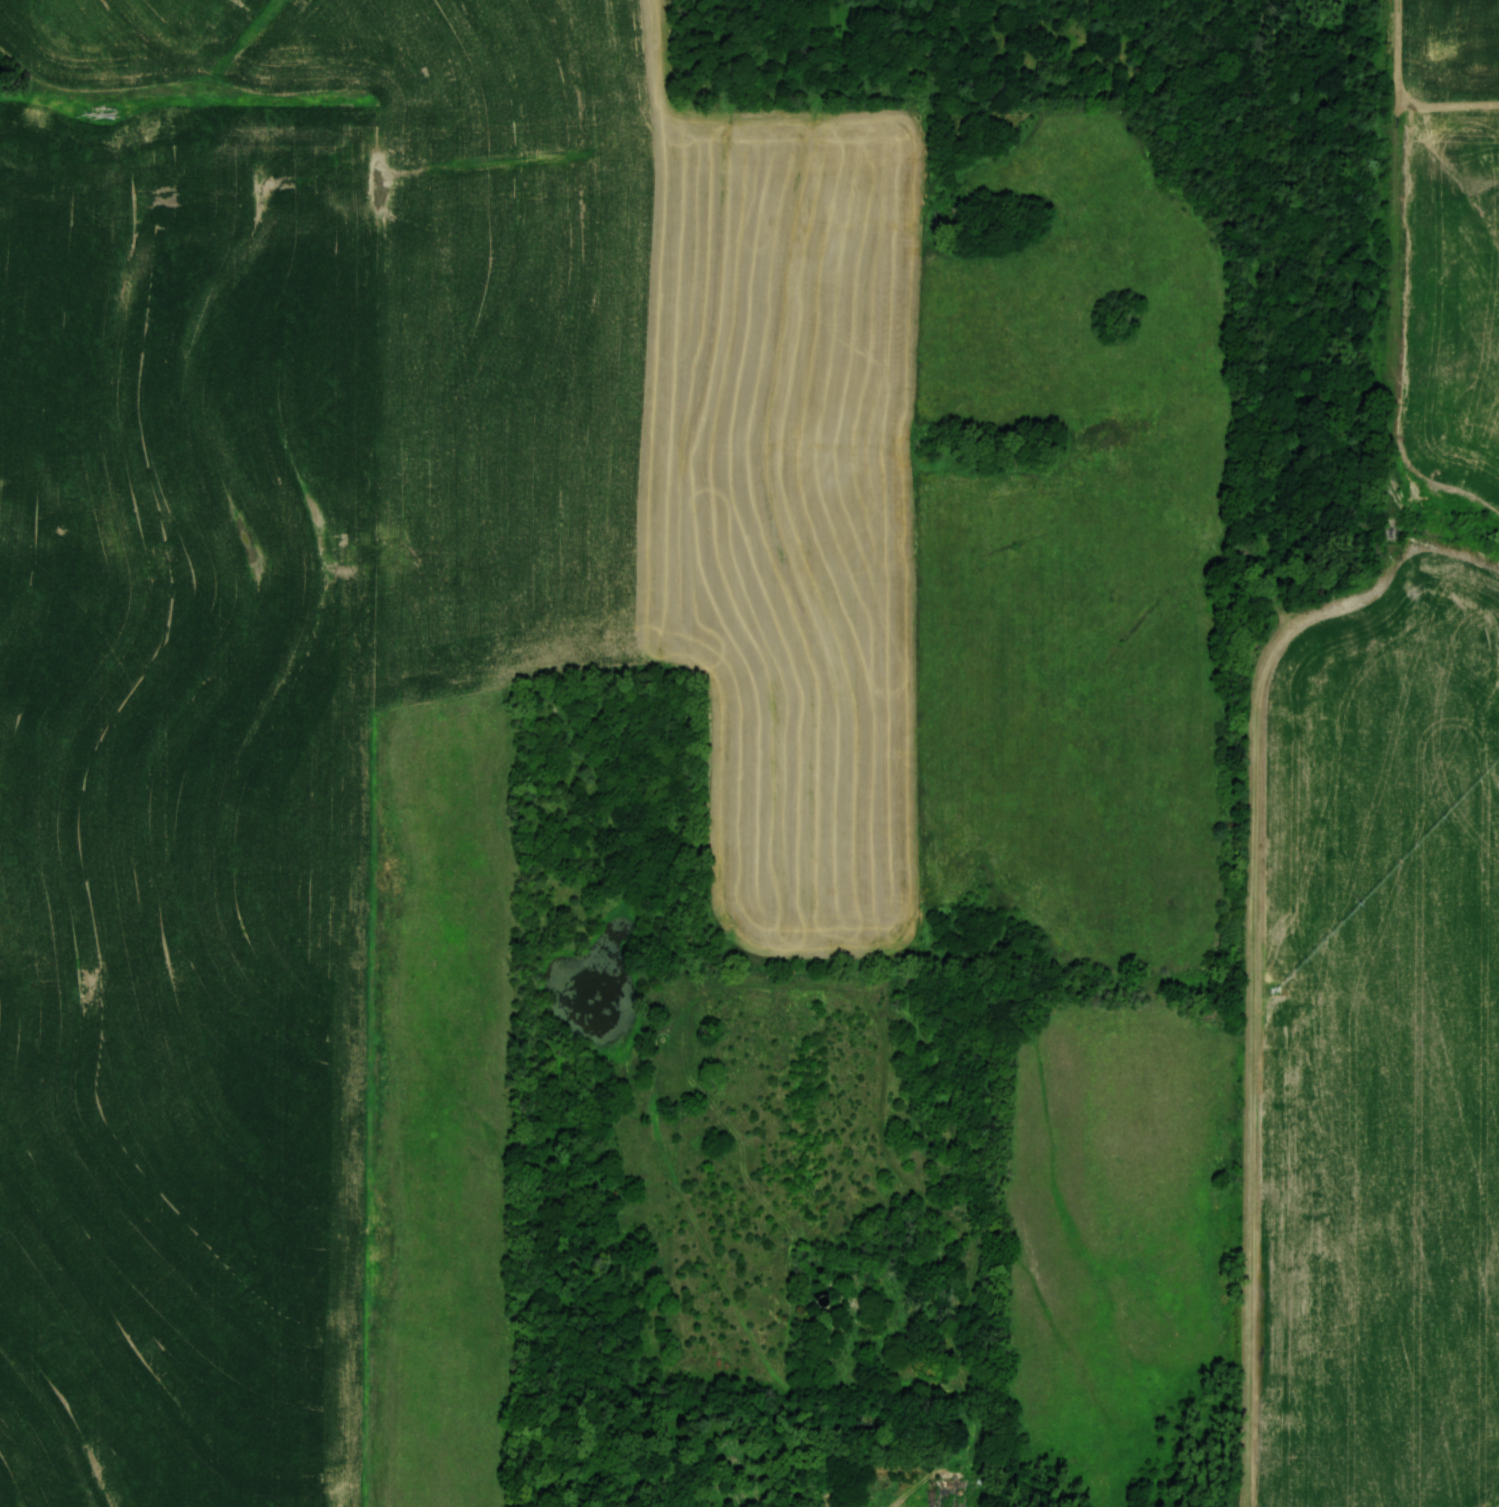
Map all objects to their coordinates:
road: (1257, 720)
building: (949, 1491)

